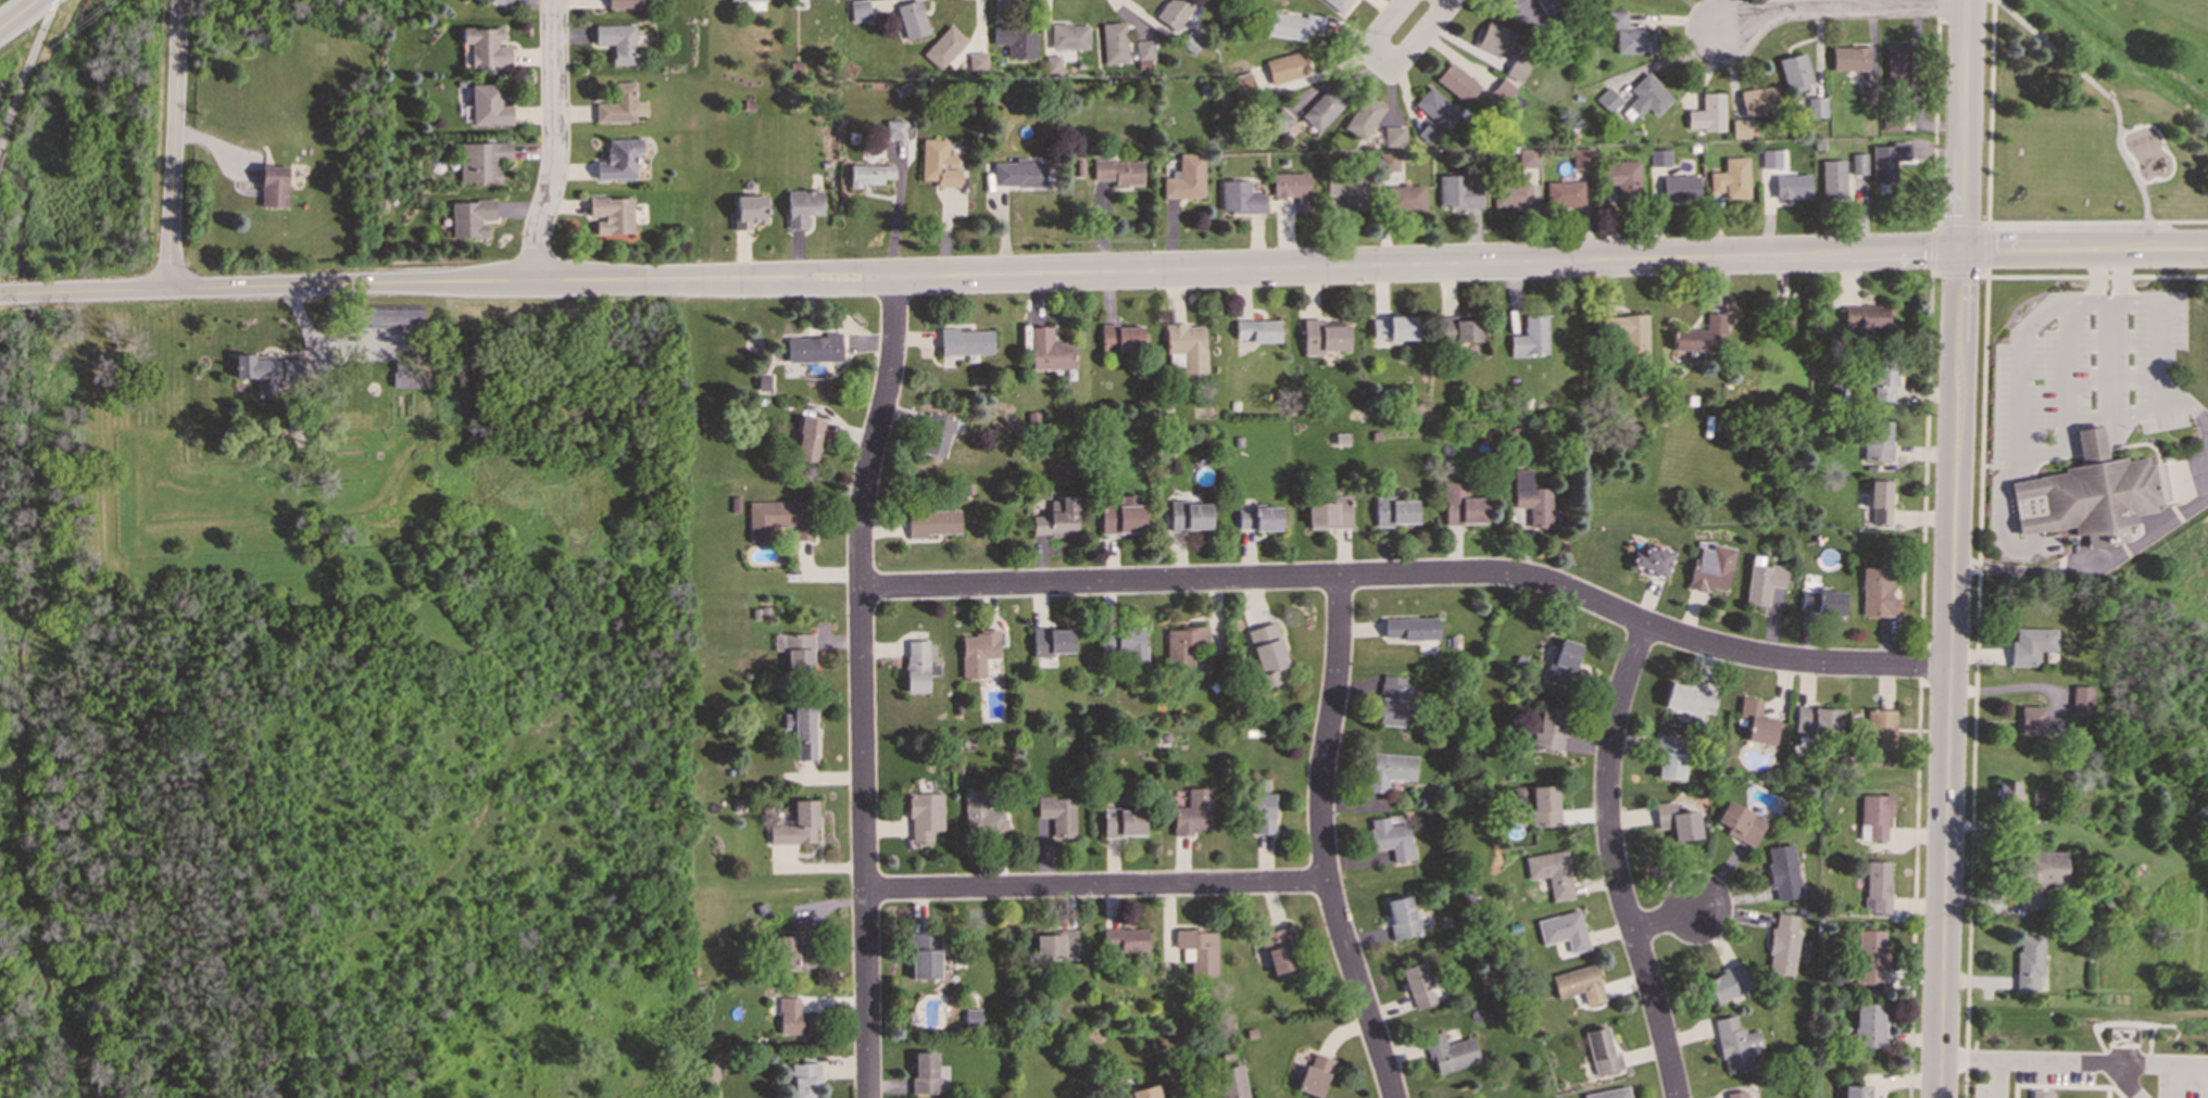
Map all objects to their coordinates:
building: (744, 0)
building: (499, 1)
building: (1511, 1)
building: (625, 3)
building: (1339, 4)
building: (1546, 5)
road: (1843, 5)
building: (860, 10)
road: (15, 11)
building: (1174, 11)
building: (912, 18)
building: (1616, 18)
road: (1410, 24)
building: (1292, 25)
building: (1069, 36)
building: (1493, 38)
building: (1016, 40)
building: (1636, 40)
building: (616, 41)
building: (1189, 41)
building: (1114, 42)
building: (486, 46)
building: (944, 47)
building: (1143, 54)
building: (1848, 58)
building: (978, 61)
building: (1053, 63)
building: (1897, 63)
road: (27, 67)
building: (1285, 67)
building: (1515, 68)
building: (1794, 72)
building: (1244, 83)
building: (1456, 83)
building: (1501, 89)
building: (1866, 96)
building: (1646, 97)
building: (1608, 99)
building: (1758, 100)
building: (620, 104)
building: (488, 105)
building: (1816, 105)
building: (1435, 108)
building: (1322, 109)
building: (1707, 113)
park: (2093, 114)
building: (1364, 116)
building: (1281, 121)
building: (1890, 125)
building: (1740, 128)
building: (894, 129)
building: (1428, 132)
building: (1393, 137)
road: (553, 140)
road: (173, 143)
building: (1659, 157)
building: (1770, 157)
building: (1526, 159)
building: (1580, 159)
building: (481, 160)
building: (618, 160)
building: (1885, 160)
building: (1387, 161)
building: (938, 163)
building: (1857, 163)
building: (1077, 167)
building: (1118, 171)
building: (1018, 173)
building: (867, 174)
building: (1185, 177)
building: (1623, 178)
building: (1731, 178)
building: (1831, 178)
building: (273, 186)
building: (1791, 186)
building: (1292, 188)
building: (1680, 188)
building: (1345, 190)
building: (1456, 192)
building: (1509, 194)
building: (1564, 194)
building: (1239, 197)
building: (1404, 198)
building: (801, 206)
building: (748, 211)
building: (611, 214)
building: (469, 217)
road: (1959, 222)
road: (1985, 245)
road: (2165, 245)
road: (1931, 248)
road: (1061, 269)
road: (1935, 273)
road: (1958, 274)
road: (2092, 276)
road: (2102, 295)
building: (390, 316)
building: (1864, 316)
road: (2156, 316)
building: (1782, 317)
building: (1392, 328)
building: (1457, 329)
building: (1256, 330)
building: (1630, 332)
road: (315, 333)
building: (1529, 335)
building: (1696, 336)
building: (1322, 337)
building: (1119, 338)
building: (965, 342)
building: (1187, 345)
building: (814, 348)
building: (1049, 350)
road: (2062, 365)
building: (267, 369)
building: (762, 381)
building: (1883, 384)
road: (2142, 408)
road: (2106, 412)
road: (2011, 415)
road: (2206, 426)
building: (936, 436)
building: (807, 439)
building: (1878, 440)
building: (2088, 493)
building: (1531, 500)
building: (1880, 502)
building: (1460, 504)
building: (1327, 512)
building: (1393, 512)
building: (1121, 515)
building: (1188, 516)
building: (1056, 518)
building: (1257, 518)
building: (778, 519)
building: (932, 522)
road: (1952, 548)
road: (2109, 554)
building: (1651, 560)
road: (1973, 564)
building: (1709, 568)
road: (1412, 573)
building: (1761, 580)
building: (1875, 592)
building: (1820, 601)
building: (1408, 628)
building: (1051, 641)
building: (1122, 643)
building: (1185, 644)
building: (2030, 645)
building: (794, 649)
building: (978, 652)
building: (1267, 654)
building: (1561, 660)
building: (917, 666)
road: (1974, 681)
road: (1919, 682)
road: (862, 684)
building: (1688, 698)
building: (2082, 698)
building: (1391, 701)
building: (1817, 719)
building: (2031, 719)
building: (1756, 721)
building: (2052, 724)
building: (1547, 729)
building: (801, 731)
building: (1880, 736)
building: (1669, 765)
building: (1389, 769)
building: (2007, 793)
building: (1543, 806)
building: (1193, 812)
building: (1058, 813)
building: (1262, 813)
building: (924, 815)
building: (982, 815)
building: (1873, 816)
building: (1676, 821)
building: (1122, 822)
building: (1740, 822)
building: (796, 824)
building: (1390, 837)
road: (1322, 842)
road: (1613, 862)
building: (1783, 871)
building: (1550, 872)
building: (2036, 875)
road: (1096, 886)
building: (1877, 886)
building: (1401, 917)
road: (1667, 917)
building: (1561, 930)
building: (1125, 938)
building: (1055, 944)
building: (1782, 944)
building: (1197, 949)
building: (1279, 950)
building: (793, 951)
building: (924, 956)
building: (1870, 956)
building: (2028, 961)
building: (1727, 983)
building: (1578, 984)
building: (1417, 985)
building: (973, 1015)
building: (792, 1018)
building: (1868, 1024)
building: (1735, 1045)
building: (1601, 1051)
building: (1448, 1052)
road: (2024, 1055)
road: (2159, 1059)
building: (924, 1072)
building: (1314, 1075)
road: (1993, 1076)
road: (2124, 1078)
building: (803, 1081)
building: (1231, 1083)
building: (1855, 1091)
building: (1140, 1093)
building: (1606, 1094)
building: (1735, 1094)
building: (2037, 1094)

